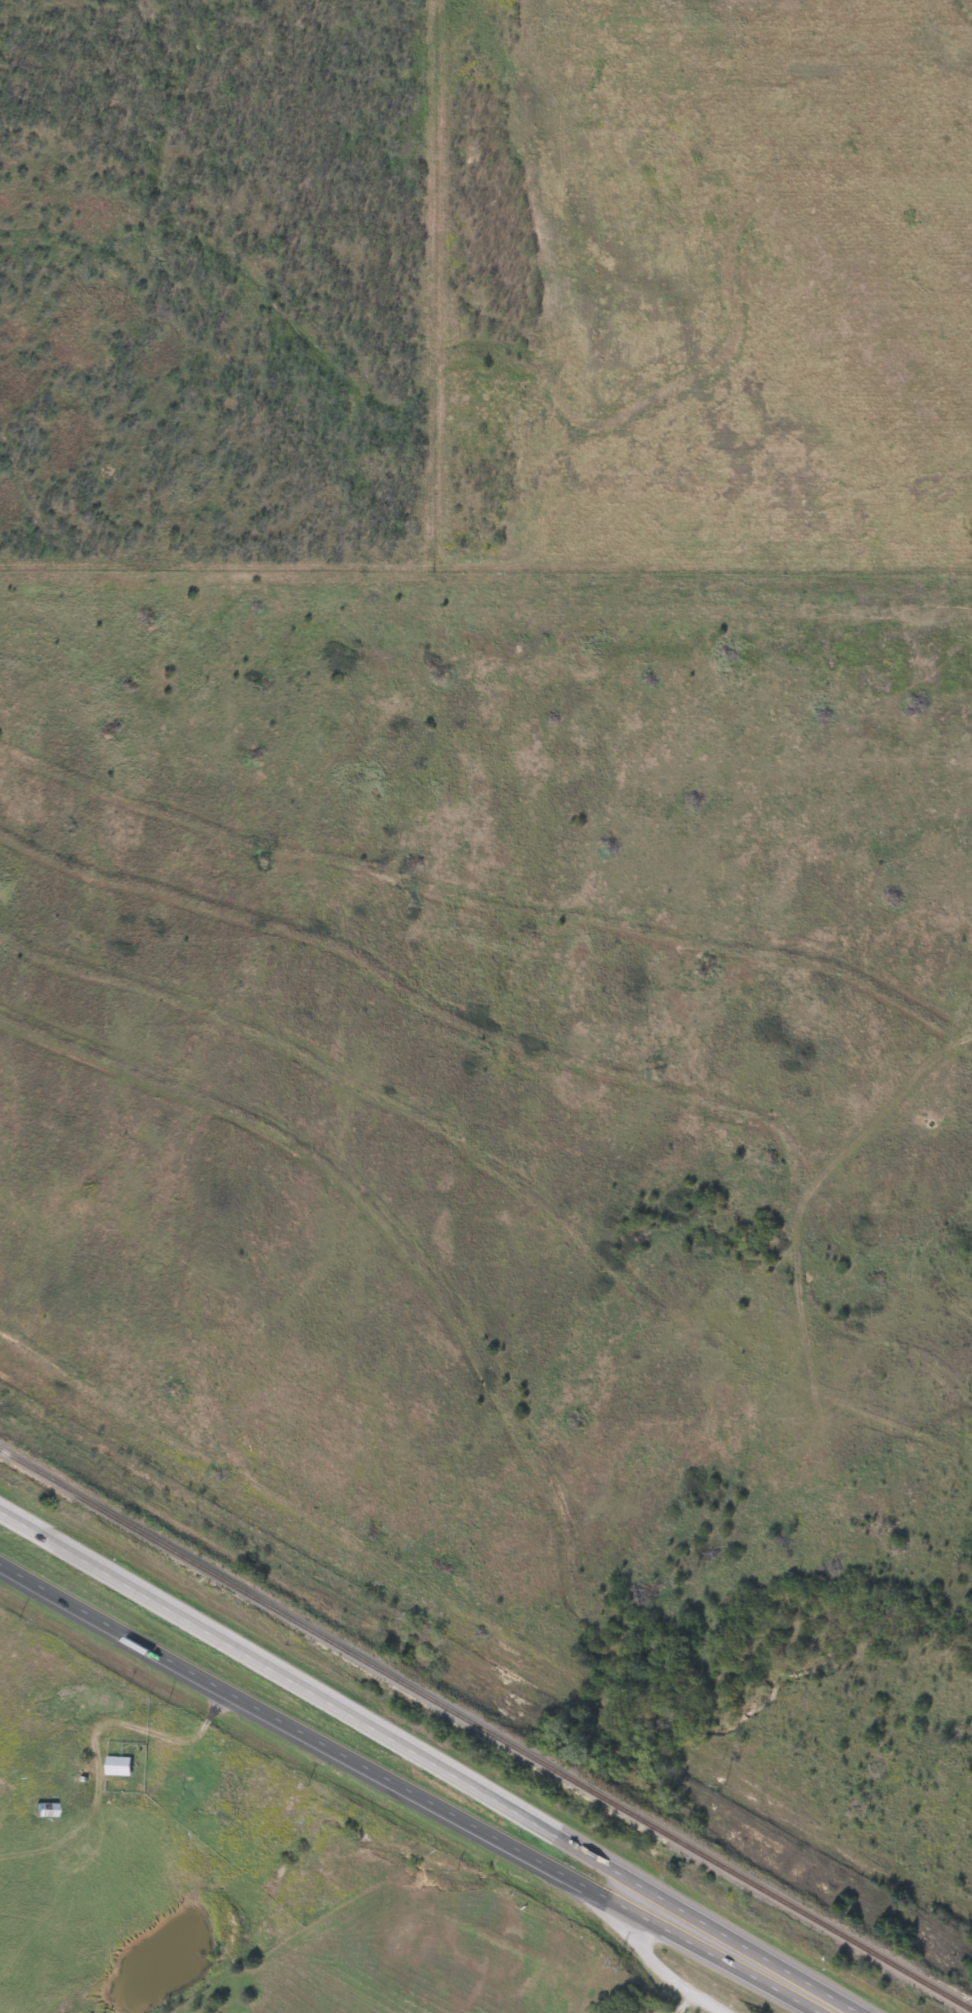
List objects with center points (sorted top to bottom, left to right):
road: (321, 1699)
railway: (485, 1730)
road: (312, 1737)
building: (116, 1767)
building: (42, 1811)
road: (731, 1955)
road: (659, 1967)

